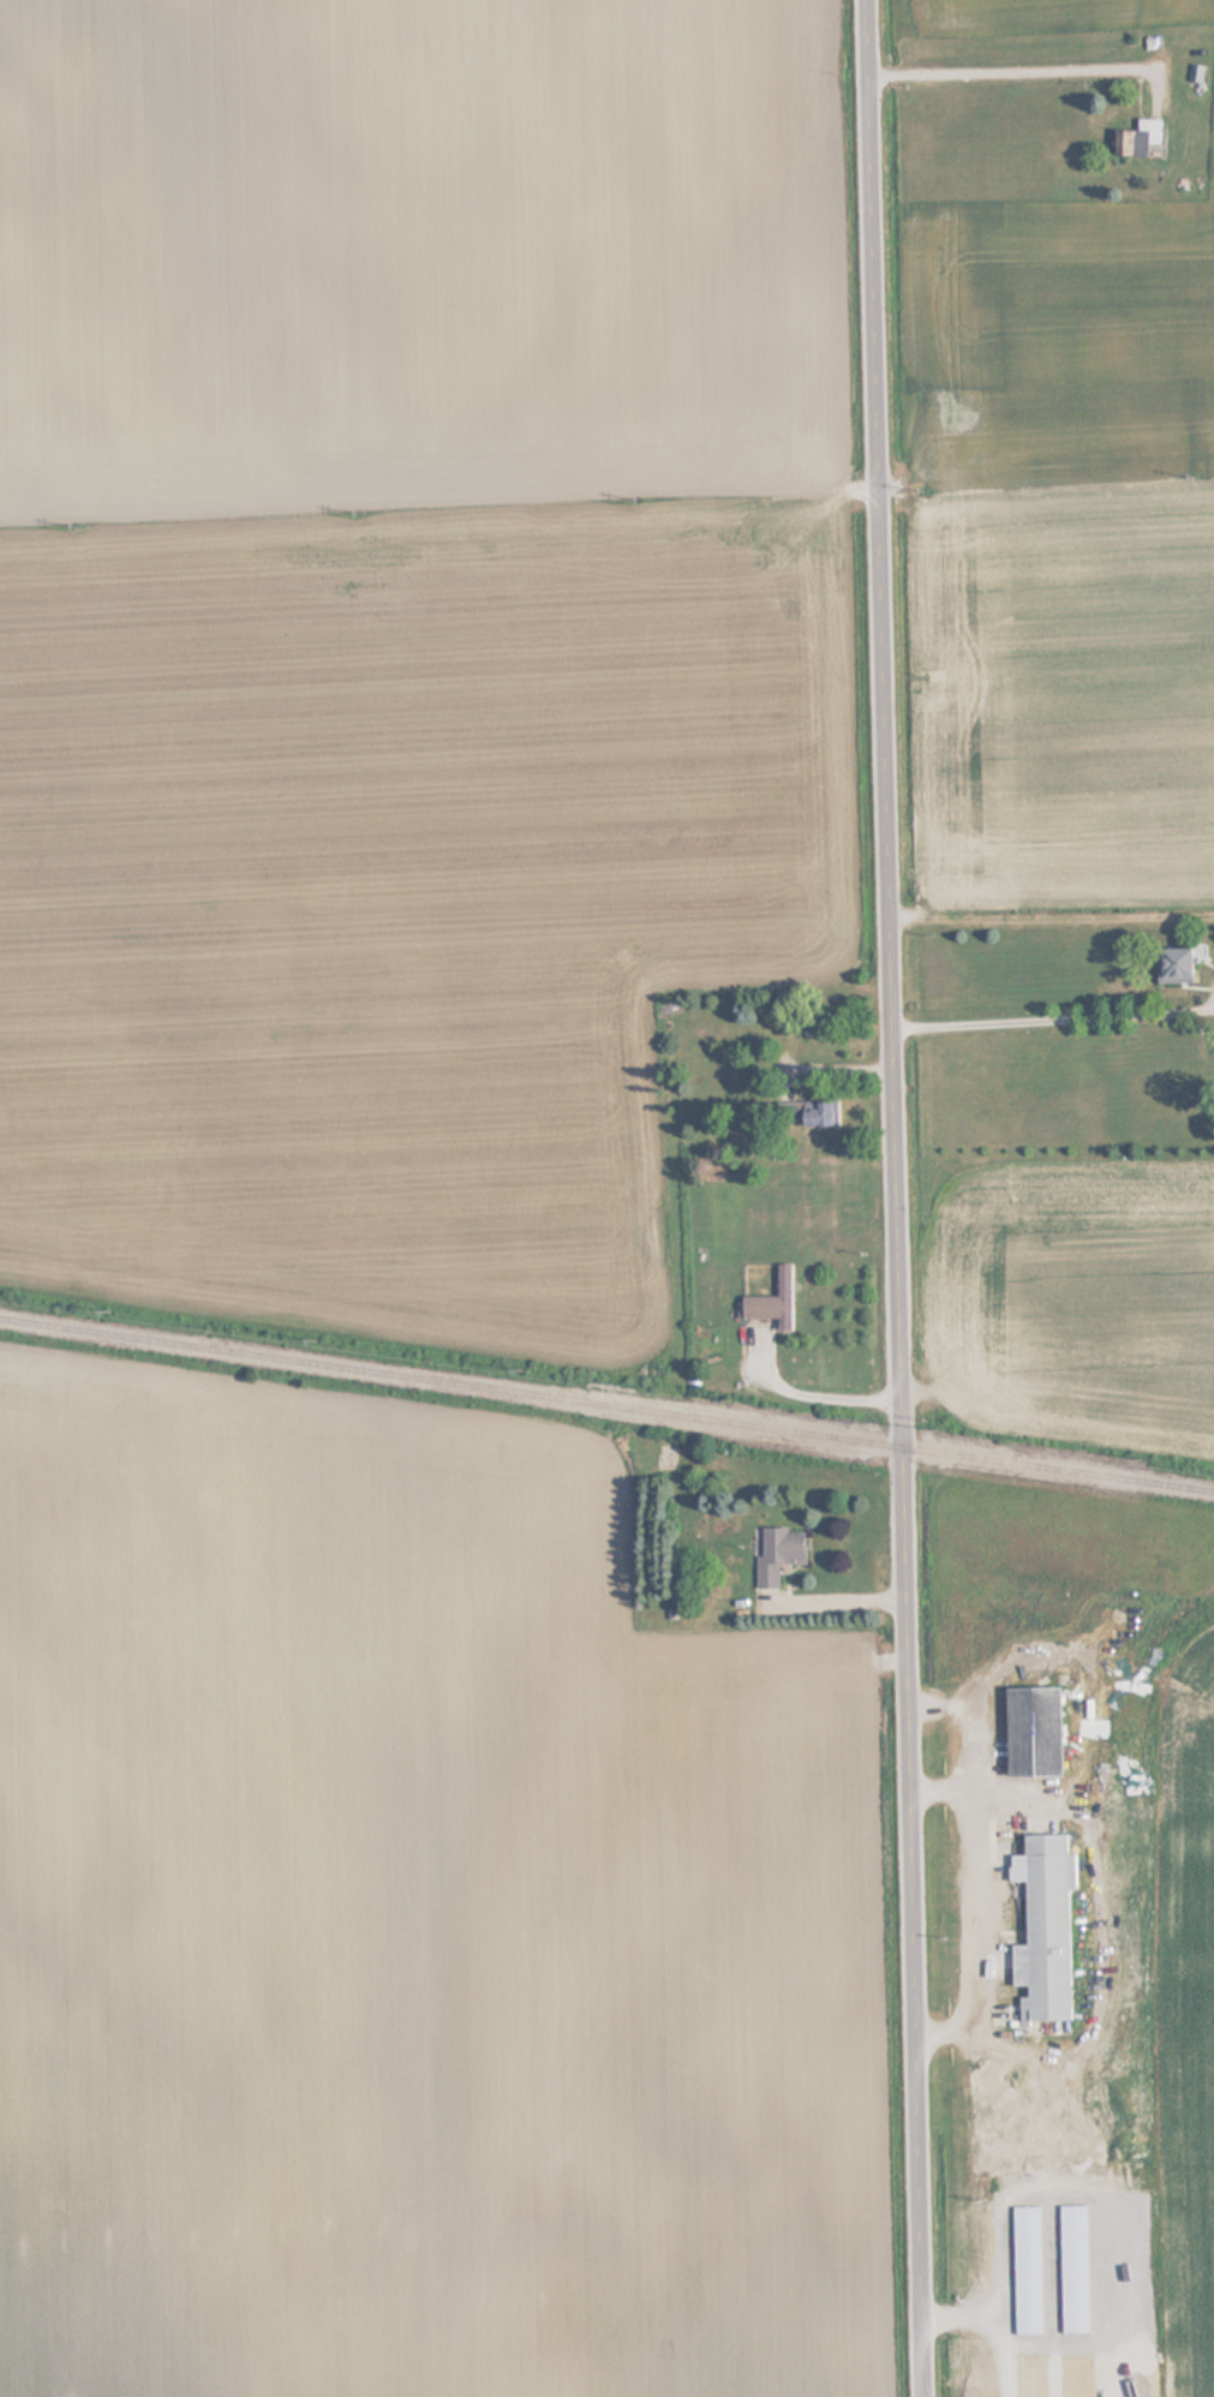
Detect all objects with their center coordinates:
road: (1030, 70)
building: (1195, 73)
building: (1136, 138)
building: (1173, 963)
building: (807, 1114)
road: (896, 1198)
building: (771, 1302)
railway: (606, 1406)
building: (775, 1553)
building: (1029, 1733)
building: (1041, 1929)

